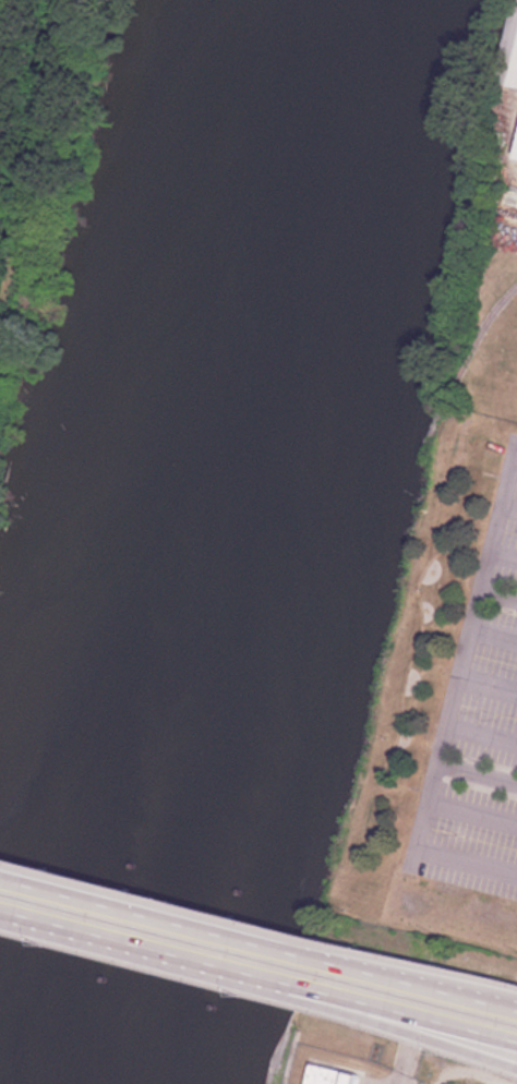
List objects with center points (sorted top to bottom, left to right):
building: (510, 60)
building: (516, 158)
railway: (480, 341)
river: (235, 545)
road: (160, 916)
road: (86, 929)
road: (182, 954)
road: (419, 983)
road: (353, 998)
road: (352, 1013)
road: (419, 1014)
building: (333, 1075)

